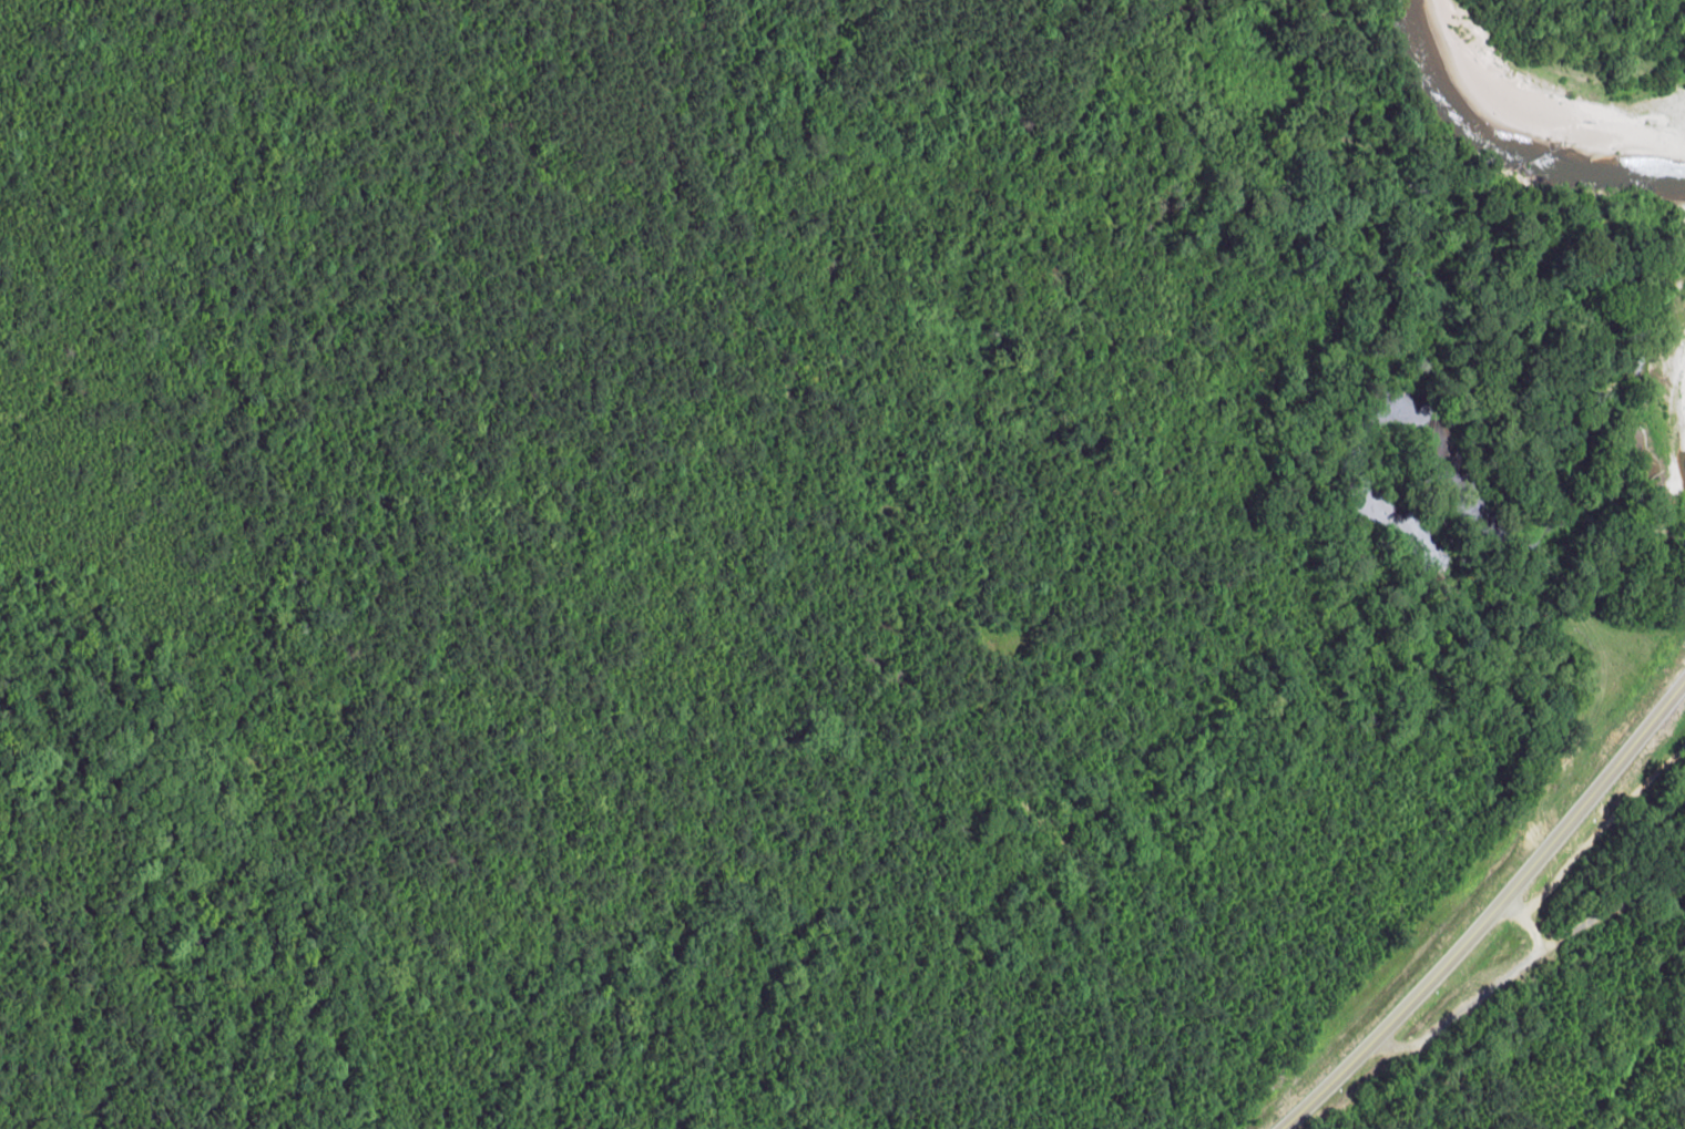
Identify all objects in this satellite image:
road: (1491, 912)

